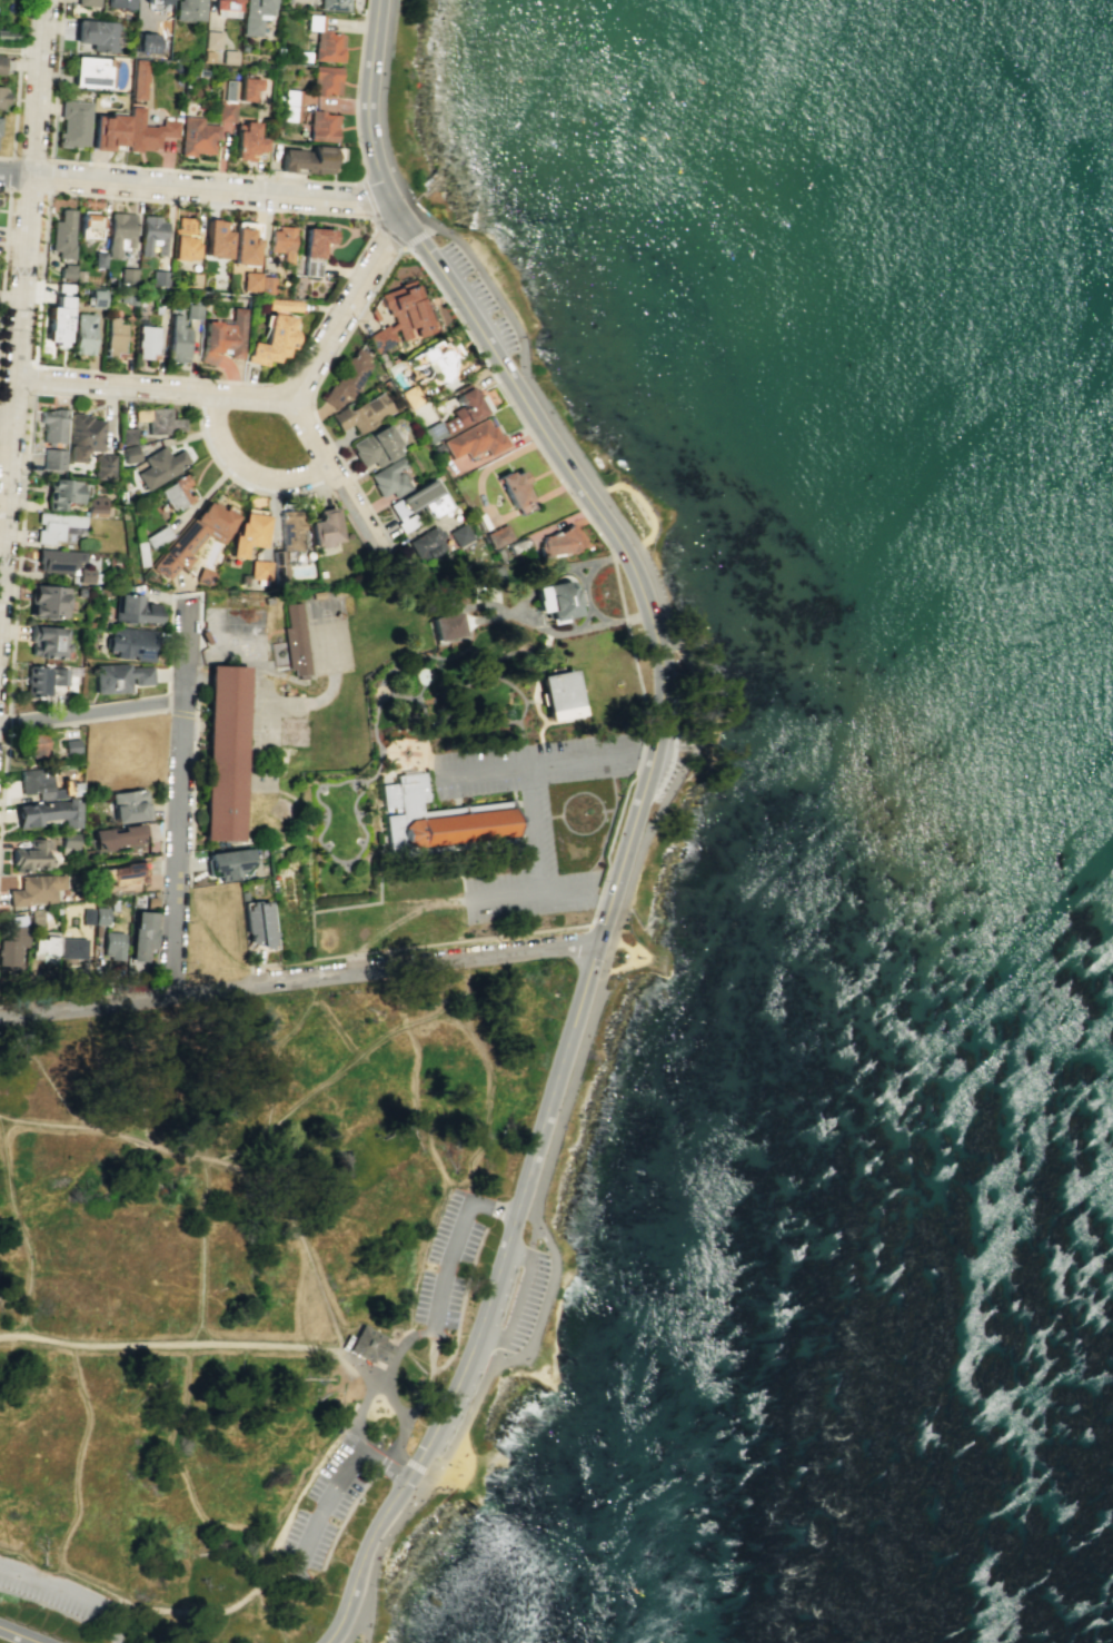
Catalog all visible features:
building: (157, 1)
building: (87, 2)
building: (119, 3)
building: (334, 4)
building: (226, 8)
building: (188, 10)
building: (254, 16)
building: (9, 34)
building: (95, 34)
building: (211, 39)
building: (324, 40)
building: (146, 42)
road: (20, 50)
building: (206, 56)
building: (228, 56)
building: (302, 56)
building: (1, 63)
building: (91, 71)
building: (138, 79)
building: (325, 79)
road: (17, 83)
building: (247, 87)
building: (2, 97)
building: (290, 105)
building: (225, 110)
building: (72, 123)
building: (321, 126)
building: (107, 130)
building: (146, 130)
building: (196, 136)
building: (247, 142)
building: (309, 159)
road: (215, 172)
road: (8, 188)
road: (200, 191)
building: (89, 224)
road: (386, 230)
building: (63, 232)
building: (119, 232)
building: (151, 235)
road: (3, 238)
building: (216, 238)
building: (183, 239)
building: (317, 240)
building: (244, 243)
building: (282, 243)
building: (99, 259)
building: (310, 266)
building: (66, 270)
building: (78, 275)
building: (127, 275)
building: (159, 278)
building: (250, 280)
building: (266, 285)
road: (21, 286)
building: (62, 287)
building: (96, 296)
parking lot: (477, 296)
road: (10, 297)
building: (282, 304)
road: (346, 307)
building: (192, 311)
building: (400, 316)
building: (57, 320)
building: (83, 333)
building: (113, 337)
building: (222, 337)
road: (306, 338)
building: (178, 339)
building: (272, 339)
building: (146, 342)
park: (525, 342)
building: (438, 365)
road: (32, 377)
building: (346, 378)
road: (152, 388)
road: (80, 394)
building: (411, 395)
building: (458, 413)
building: (362, 414)
road: (517, 415)
road: (6, 422)
building: (162, 422)
building: (53, 425)
building: (82, 436)
building: (127, 436)
park: (265, 437)
building: (475, 439)
building: (375, 446)
building: (437, 448)
building: (129, 454)
building: (52, 458)
building: (159, 465)
building: (102, 466)
road: (249, 468)
building: (391, 478)
road: (342, 483)
building: (515, 487)
building: (61, 492)
building: (176, 492)
building: (418, 504)
building: (96, 505)
building: (524, 506)
road: (486, 507)
road: (646, 512)
road: (564, 521)
building: (58, 527)
building: (324, 527)
building: (248, 533)
building: (289, 533)
building: (460, 534)
building: (498, 535)
building: (157, 536)
building: (193, 536)
building: (426, 541)
building: (559, 542)
road: (0, 550)
building: (57, 560)
building: (259, 570)
building: (85, 574)
building: (488, 574)
building: (203, 576)
building: (316, 594)
building: (555, 601)
building: (47, 602)
building: (133, 608)
building: (448, 625)
building: (295, 640)
building: (47, 641)
building: (130, 642)
road: (217, 662)
road: (439, 664)
road: (543, 667)
building: (119, 676)
road: (196, 676)
fountain: (427, 676)
building: (41, 679)
road: (507, 683)
building: (560, 693)
road: (399, 695)
road: (163, 707)
road: (91, 712)
road: (188, 713)
road: (540, 714)
road: (85, 721)
road: (8, 723)
parking lot: (673, 734)
building: (33, 743)
building: (70, 745)
building: (225, 751)
road: (549, 763)
road: (3, 776)
building: (44, 783)
road: (357, 794)
road: (613, 800)
road: (177, 801)
road: (600, 804)
building: (129, 805)
road: (637, 809)
building: (49, 812)
building: (438, 815)
road: (649, 819)
parking lot: (529, 820)
road: (535, 831)
building: (116, 835)
road: (289, 837)
road: (220, 839)
road: (603, 840)
building: (68, 843)
building: (31, 855)
building: (226, 862)
building: (121, 873)
road: (308, 878)
building: (34, 889)
road: (540, 897)
building: (112, 904)
road: (403, 914)
building: (86, 915)
building: (100, 915)
building: (258, 923)
road: (599, 928)
building: (96, 930)
building: (142, 930)
building: (12, 941)
building: (112, 944)
road: (426, 944)
building: (42, 947)
building: (71, 947)
road: (642, 954)
road: (228, 958)
road: (627, 958)
road: (298, 980)
road: (425, 1036)
road: (44, 1075)
road: (334, 1078)
road: (17, 1091)
road: (96, 1145)
road: (219, 1164)
road: (21, 1223)
road: (530, 1239)
parking lot: (448, 1258)
road: (447, 1265)
park: (238, 1291)
parking lot: (505, 1294)
road: (520, 1298)
parking lot: (521, 1299)
road: (299, 1301)
road: (423, 1330)
road: (170, 1344)
building: (369, 1345)
road: (497, 1353)
road: (394, 1356)
road: (359, 1368)
road: (185, 1390)
road: (362, 1402)
parking lot: (457, 1413)
road: (397, 1414)
road: (121, 1422)
road: (357, 1437)
road: (76, 1457)
road: (388, 1457)
road: (411, 1463)
road: (455, 1464)
road: (379, 1468)
road: (338, 1484)
road: (439, 1488)
road: (298, 1497)
parking lot: (326, 1503)
road: (118, 1511)
road: (199, 1514)
road: (342, 1518)
park: (423, 1534)
road: (62, 1571)
road: (51, 1580)
parking lot: (52, 1590)
road: (212, 1609)
road: (60, 1611)
road: (267, 1616)
road: (366, 1621)
road: (121, 1622)
road: (19, 1635)
park: (2, 1641)

